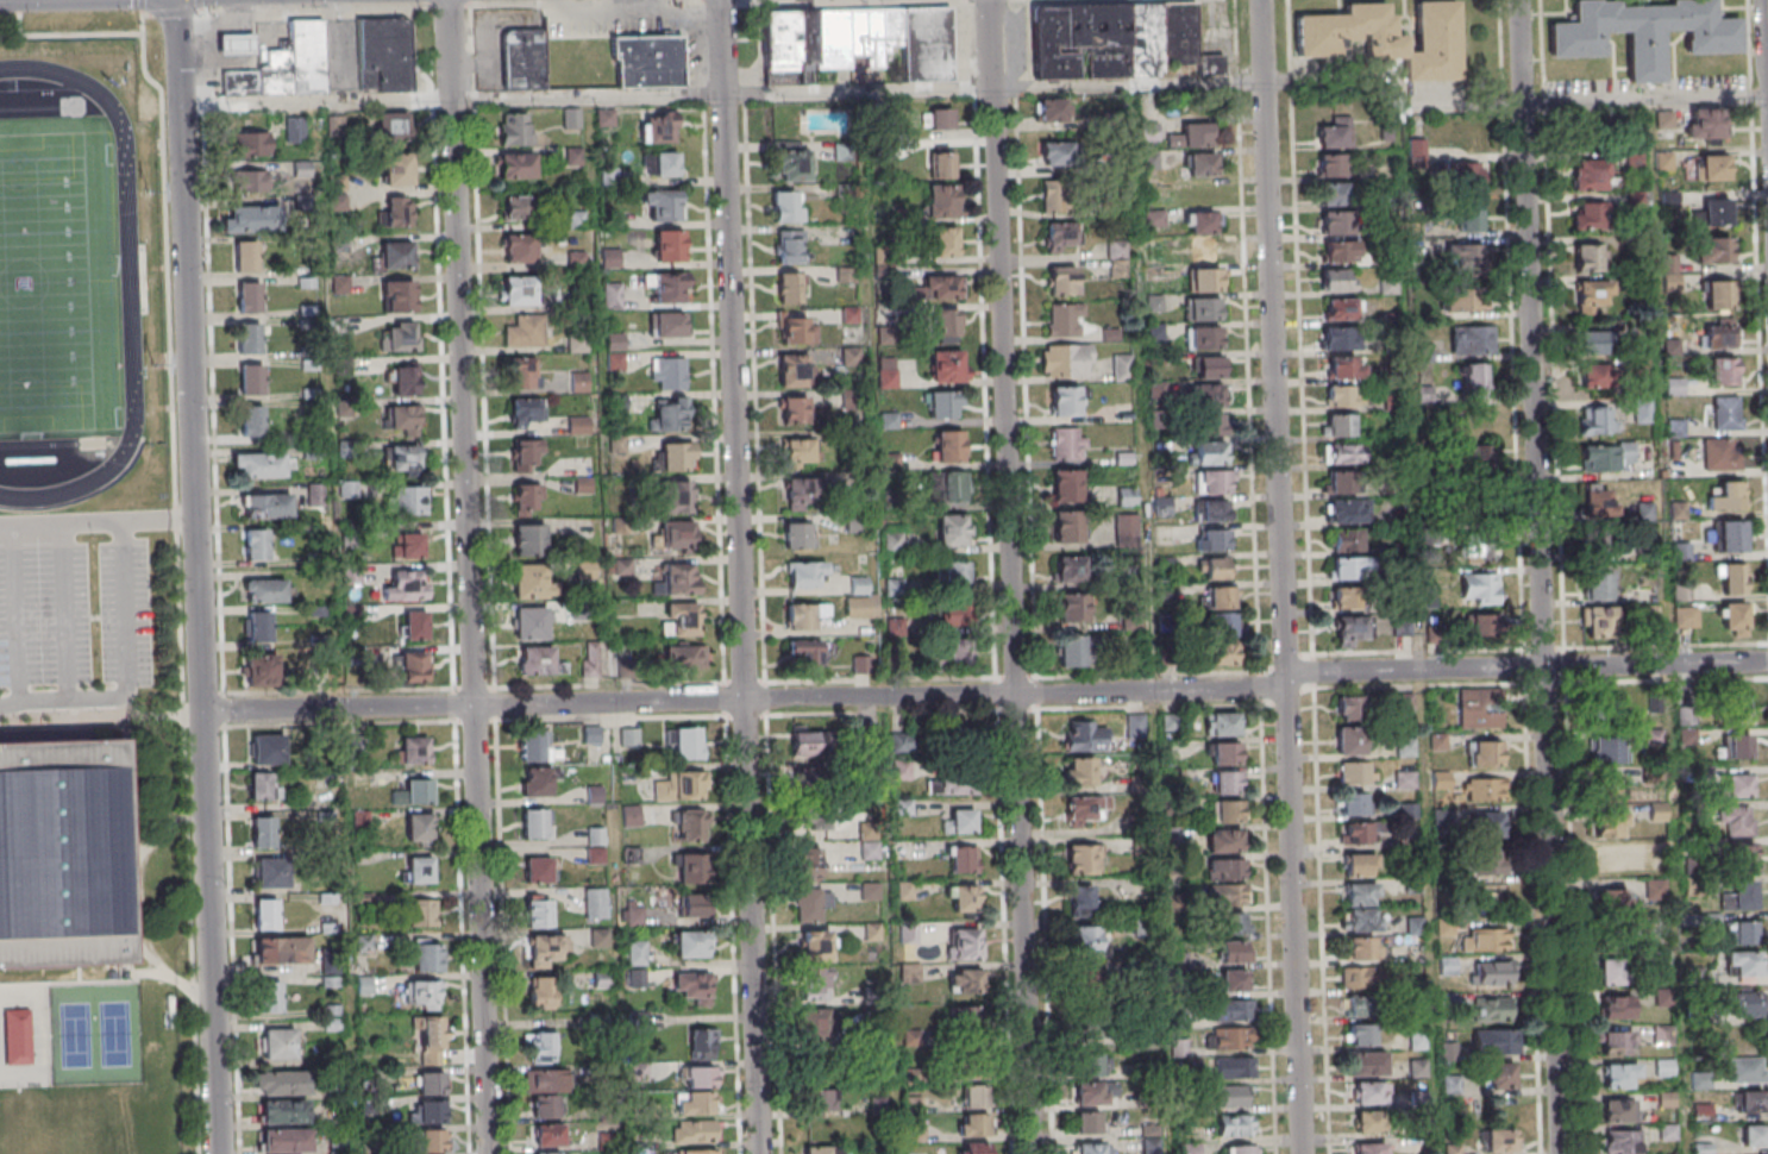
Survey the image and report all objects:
road: (725, 1)
road: (590, 2)
road: (454, 5)
road: (142, 6)
road: (319, 7)
road: (178, 11)
road: (149, 12)
building: (1641, 32)
road: (70, 35)
building: (1387, 37)
building: (778, 39)
building: (1116, 39)
building: (239, 43)
building: (383, 55)
building: (312, 56)
building: (523, 58)
building: (646, 61)
building: (280, 73)
building: (244, 82)
road: (976, 89)
building: (1053, 109)
building: (936, 118)
building: (658, 127)
building: (1705, 127)
building: (295, 128)
building: (513, 128)
building: (1336, 132)
building: (1191, 134)
building: (247, 144)
building: (1417, 152)
building: (1054, 153)
building: (662, 163)
building: (942, 163)
building: (516, 164)
building: (791, 164)
building: (1202, 164)
building: (1331, 164)
building: (1709, 167)
building: (397, 170)
building: (1590, 174)
building: (1457, 175)
building: (249, 181)
building: (1336, 194)
building: (1055, 195)
building: (940, 200)
building: (662, 203)
building: (786, 206)
building: (518, 207)
building: (397, 211)
building: (1716, 213)
building: (1469, 215)
building: (1590, 215)
building: (245, 218)
building: (1203, 221)
building: (1336, 222)
building: (1060, 237)
building: (945, 240)
building: (669, 245)
building: (791, 246)
building: (519, 249)
building: (1203, 250)
building: (1712, 250)
building: (1341, 251)
building: (396, 253)
building: (244, 256)
building: (1465, 257)
building: (1588, 257)
building: (1117, 258)
track: (128, 276)
building: (1206, 278)
building: (1337, 280)
building: (1062, 281)
park: (59, 284)
park: (46, 286)
building: (1388, 286)
building: (670, 287)
building: (790, 287)
building: (940, 287)
building: (519, 290)
building: (1593, 293)
building: (1719, 294)
building: (613, 295)
building: (1463, 295)
building: (397, 296)
building: (247, 297)
building: (1204, 308)
building: (1343, 308)
building: (1066, 319)
building: (671, 324)
building: (947, 326)
building: (797, 330)
building: (525, 331)
building: (400, 335)
building: (1205, 337)
building: (1717, 337)
building: (247, 338)
building: (1338, 338)
building: (1473, 339)
building: (1593, 340)
building: (577, 341)
building: (851, 355)
building: (1066, 359)
building: (948, 365)
building: (1122, 366)
building: (1211, 366)
building: (1343, 366)
building: (796, 370)
building: (1723, 370)
building: (523, 372)
building: (667, 372)
building: (886, 372)
building: (1474, 376)
building: (1595, 377)
building: (250, 380)
building: (405, 380)
building: (1211, 395)
building: (1342, 395)
building: (1066, 400)
building: (942, 403)
building: (527, 409)
building: (795, 409)
building: (1640, 409)
building: (1726, 412)
building: (670, 414)
building: (403, 419)
building: (1595, 420)
building: (251, 421)
building: (1211, 424)
building: (1340, 424)
building: (1067, 443)
building: (949, 445)
building: (1474, 446)
building: (798, 451)
building: (1210, 452)
building: (1341, 452)
building: (527, 454)
building: (1720, 454)
building: (677, 456)
building: (1606, 456)
building: (406, 459)
building: (262, 464)
building: (1678, 468)
building: (1216, 481)
building: (1346, 481)
building: (1068, 485)
building: (951, 487)
building: (800, 490)
building: (1729, 495)
building: (526, 496)
building: (676, 496)
building: (1127, 496)
building: (405, 498)
building: (1597, 501)
building: (264, 504)
building: (1162, 504)
building: (1214, 510)
building: (1347, 510)
road: (150, 520)
road: (187, 520)
road: (62, 522)
building: (1126, 523)
building: (1067, 527)
building: (952, 529)
building: (677, 533)
building: (798, 533)
building: (528, 539)
building: (1212, 539)
building: (1346, 539)
building: (894, 540)
building: (410, 544)
building: (256, 545)
building: (1348, 566)
building: (1216, 567)
building: (585, 569)
building: (1071, 570)
building: (955, 572)
building: (805, 573)
road: (199, 576)
road: (475, 576)
road: (1015, 576)
road: (1286, 576)
road: (1312, 576)
road: (1544, 576)
road: (745, 577)
building: (679, 578)
building: (1731, 578)
road: (178, 579)
building: (529, 581)
building: (1598, 585)
building: (406, 587)
building: (1479, 588)
building: (265, 590)
building: (1220, 597)
building: (1348, 597)
building: (860, 607)
building: (1073, 607)
road: (65, 612)
parking lot: (76, 612)
road: (15, 613)
building: (952, 613)
building: (800, 616)
building: (1733, 617)
building: (679, 619)
building: (1599, 621)
building: (531, 622)
building: (1221, 623)
building: (414, 625)
building: (1484, 625)
building: (258, 627)
building: (1350, 629)
building: (1072, 650)
building: (805, 651)
building: (1220, 652)
building: (681, 657)
building: (538, 660)
building: (413, 665)
building: (259, 670)
road: (127, 673)
road: (989, 696)
building: (1605, 704)
building: (1352, 708)
building: (1736, 708)
building: (1480, 711)
road: (104, 721)
building: (1227, 725)
building: (1135, 726)
building: (591, 734)
building: (1086, 735)
building: (628, 736)
building: (957, 736)
building: (803, 740)
building: (903, 740)
building: (1349, 740)
building: (688, 742)
building: (534, 745)
building: (1405, 747)
building: (1737, 747)
building: (264, 748)
building: (1606, 748)
building: (414, 750)
building: (1229, 753)
building: (1486, 753)
building: (903, 770)
building: (1080, 772)
building: (1355, 772)
building: (805, 778)
building: (1405, 779)
building: (534, 782)
building: (951, 783)
building: (1230, 783)
building: (1737, 784)
building: (264, 785)
building: (681, 785)
building: (1484, 788)
building: (1607, 788)
building: (418, 790)
building: (1353, 803)
building: (1082, 811)
building: (1233, 811)
building: (631, 815)
building: (813, 815)
building: (959, 820)
building: (1738, 821)
building: (534, 823)
building: (1485, 824)
building: (1609, 824)
building: (690, 826)
building: (418, 827)
building: (262, 832)
building: (1360, 832)
road: (158, 836)
building: (1233, 841)
building: (596, 845)
building: (870, 849)
building: (59, 854)
building: (1609, 858)
building: (963, 859)
building: (1083, 859)
building: (1487, 861)
building: (1741, 861)
building: (808, 863)
building: (1360, 865)
building: (692, 867)
road: (132, 870)
building: (418, 870)
building: (538, 870)
building: (1233, 870)
building: (271, 873)
building: (1361, 893)
building: (963, 895)
building: (1235, 895)
building: (1743, 897)
building: (1080, 899)
building: (1607, 902)
building: (594, 903)
building: (808, 904)
building: (695, 905)
road: (1271, 911)
building: (421, 912)
building: (538, 912)
building: (264, 914)
building: (1362, 918)
building: (1235, 923)
building: (1415, 924)
building: (1743, 933)
building: (600, 936)
building: (1490, 939)
building: (1087, 941)
building: (965, 942)
building: (691, 945)
building: (816, 945)
building: (1362, 947)
building: (281, 949)
building: (545, 949)
building: (637, 952)
building: (1236, 953)
building: (426, 954)
building: (1743, 962)
road: (148, 972)
building: (909, 972)
building: (1492, 972)
building: (1613, 972)
road: (77, 974)
building: (638, 977)
building: (1360, 977)
building: (965, 980)
building: (1237, 981)
road: (87, 983)
building: (813, 983)
building: (1091, 983)
building: (694, 987)
building: (420, 992)
building: (540, 992)
building: (269, 997)
building: (1742, 1005)
building: (1361, 1006)
building: (1616, 1006)
building: (1491, 1008)
building: (1243, 1011)
building: (964, 1020)
building: (641, 1021)
building: (814, 1021)
building: (337, 1024)
building: (1091, 1028)
building: (1361, 1034)
building: (1661, 1035)
park: (96, 1036)
building: (18, 1037)
building: (1417, 1039)
building: (1499, 1041)
building: (1616, 1041)
building: (701, 1042)
building: (430, 1043)
building: (282, 1045)
building: (543, 1046)
road: (40, 1049)
building: (967, 1059)
building: (1092, 1065)
building: (1363, 1065)
building: (1417, 1067)
building: (817, 1068)
building: (1245, 1070)
building: (1745, 1070)
building: (701, 1075)
building: (1618, 1075)
building: (1498, 1077)
building: (428, 1083)
building: (288, 1084)
building: (1452, 1084)
building: (339, 1089)
building: (546, 1091)
building: (1090, 1093)
building: (1369, 1095)
building: (973, 1096)
building: (1233, 1097)
building: (822, 1098)
building: (1748, 1100)
building: (694, 1102)
building: (1497, 1105)
building: (1615, 1110)
building: (431, 1111)
building: (288, 1112)
building: (1087, 1122)
building: (1371, 1123)
building: (972, 1124)
building: (1237, 1125)
building: (823, 1127)
building: (694, 1130)
building: (547, 1134)
building: (1754, 1135)
building: (432, 1140)
building: (1500, 1140)
building: (289, 1141)
building: (1620, 1141)
building: (341, 1146)
building: (973, 1148)
building: (1189, 1148)
building: (1453, 1148)
building: (823, 1149)
building: (1093, 1149)
building: (1371, 1149)
building: (1246, 1150)
building: (701, 1152)
building: (554, 1153)

